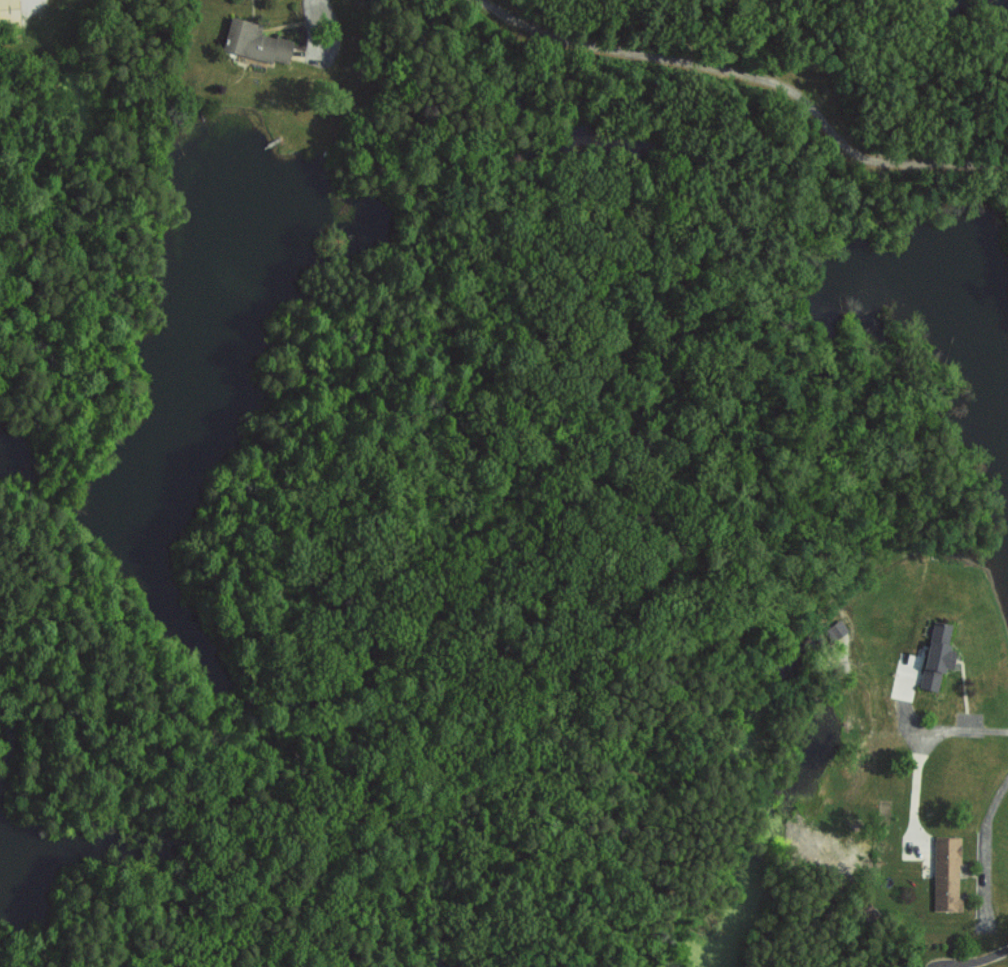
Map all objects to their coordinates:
building: (8, 12)
building: (253, 41)
road: (755, 93)
building: (835, 630)
building: (935, 654)
road: (928, 751)
road: (985, 841)
building: (945, 874)
road: (988, 957)

